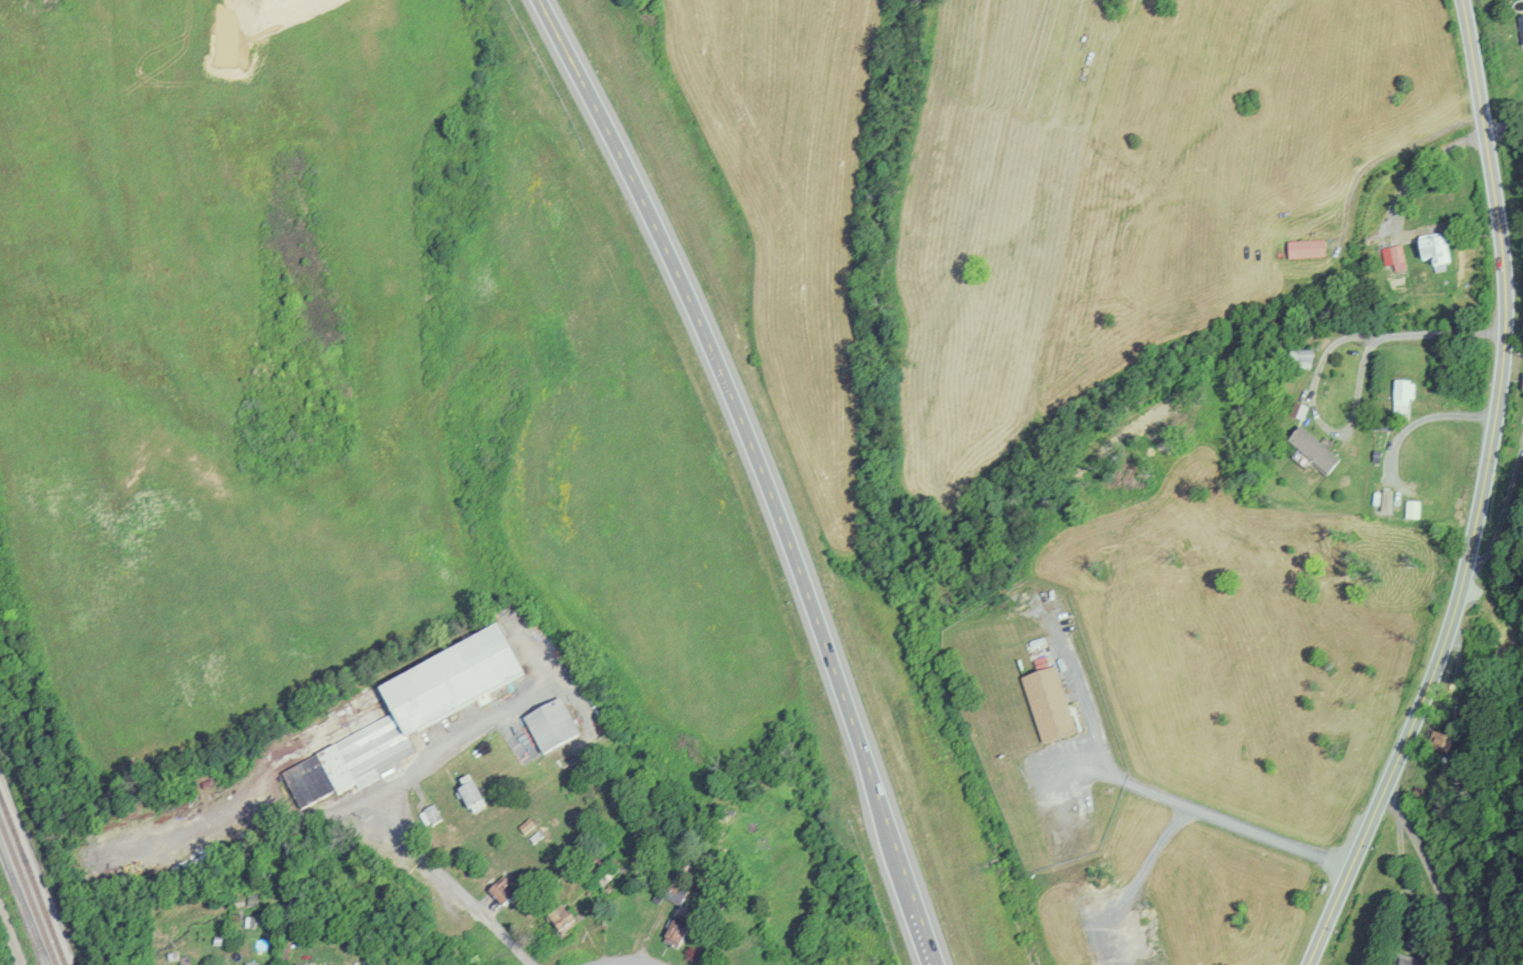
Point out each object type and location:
building: (1520, 29)
building: (1304, 249)
building: (1432, 249)
building: (1392, 256)
building: (1301, 358)
road: (1358, 392)
building: (1401, 395)
building: (1311, 450)
road: (763, 472)
road: (1482, 496)
building: (455, 682)
building: (1046, 704)
building: (555, 726)
building: (353, 763)
building: (467, 796)
road: (1207, 814)
building: (429, 815)
road: (1432, 872)
railway: (33, 878)
railway: (28, 891)
building: (669, 891)
road: (460, 892)
building: (498, 893)
building: (559, 920)
building: (672, 934)
road: (11, 936)
building: (1144, 961)
building: (1410, 962)
road: (626, 963)
building: (249, 964)

